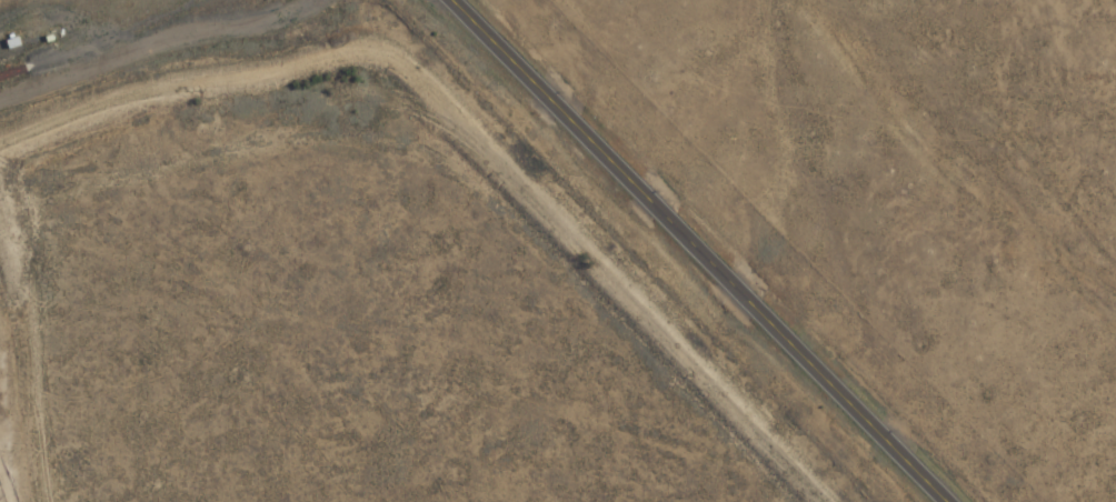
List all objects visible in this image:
road: (695, 251)

